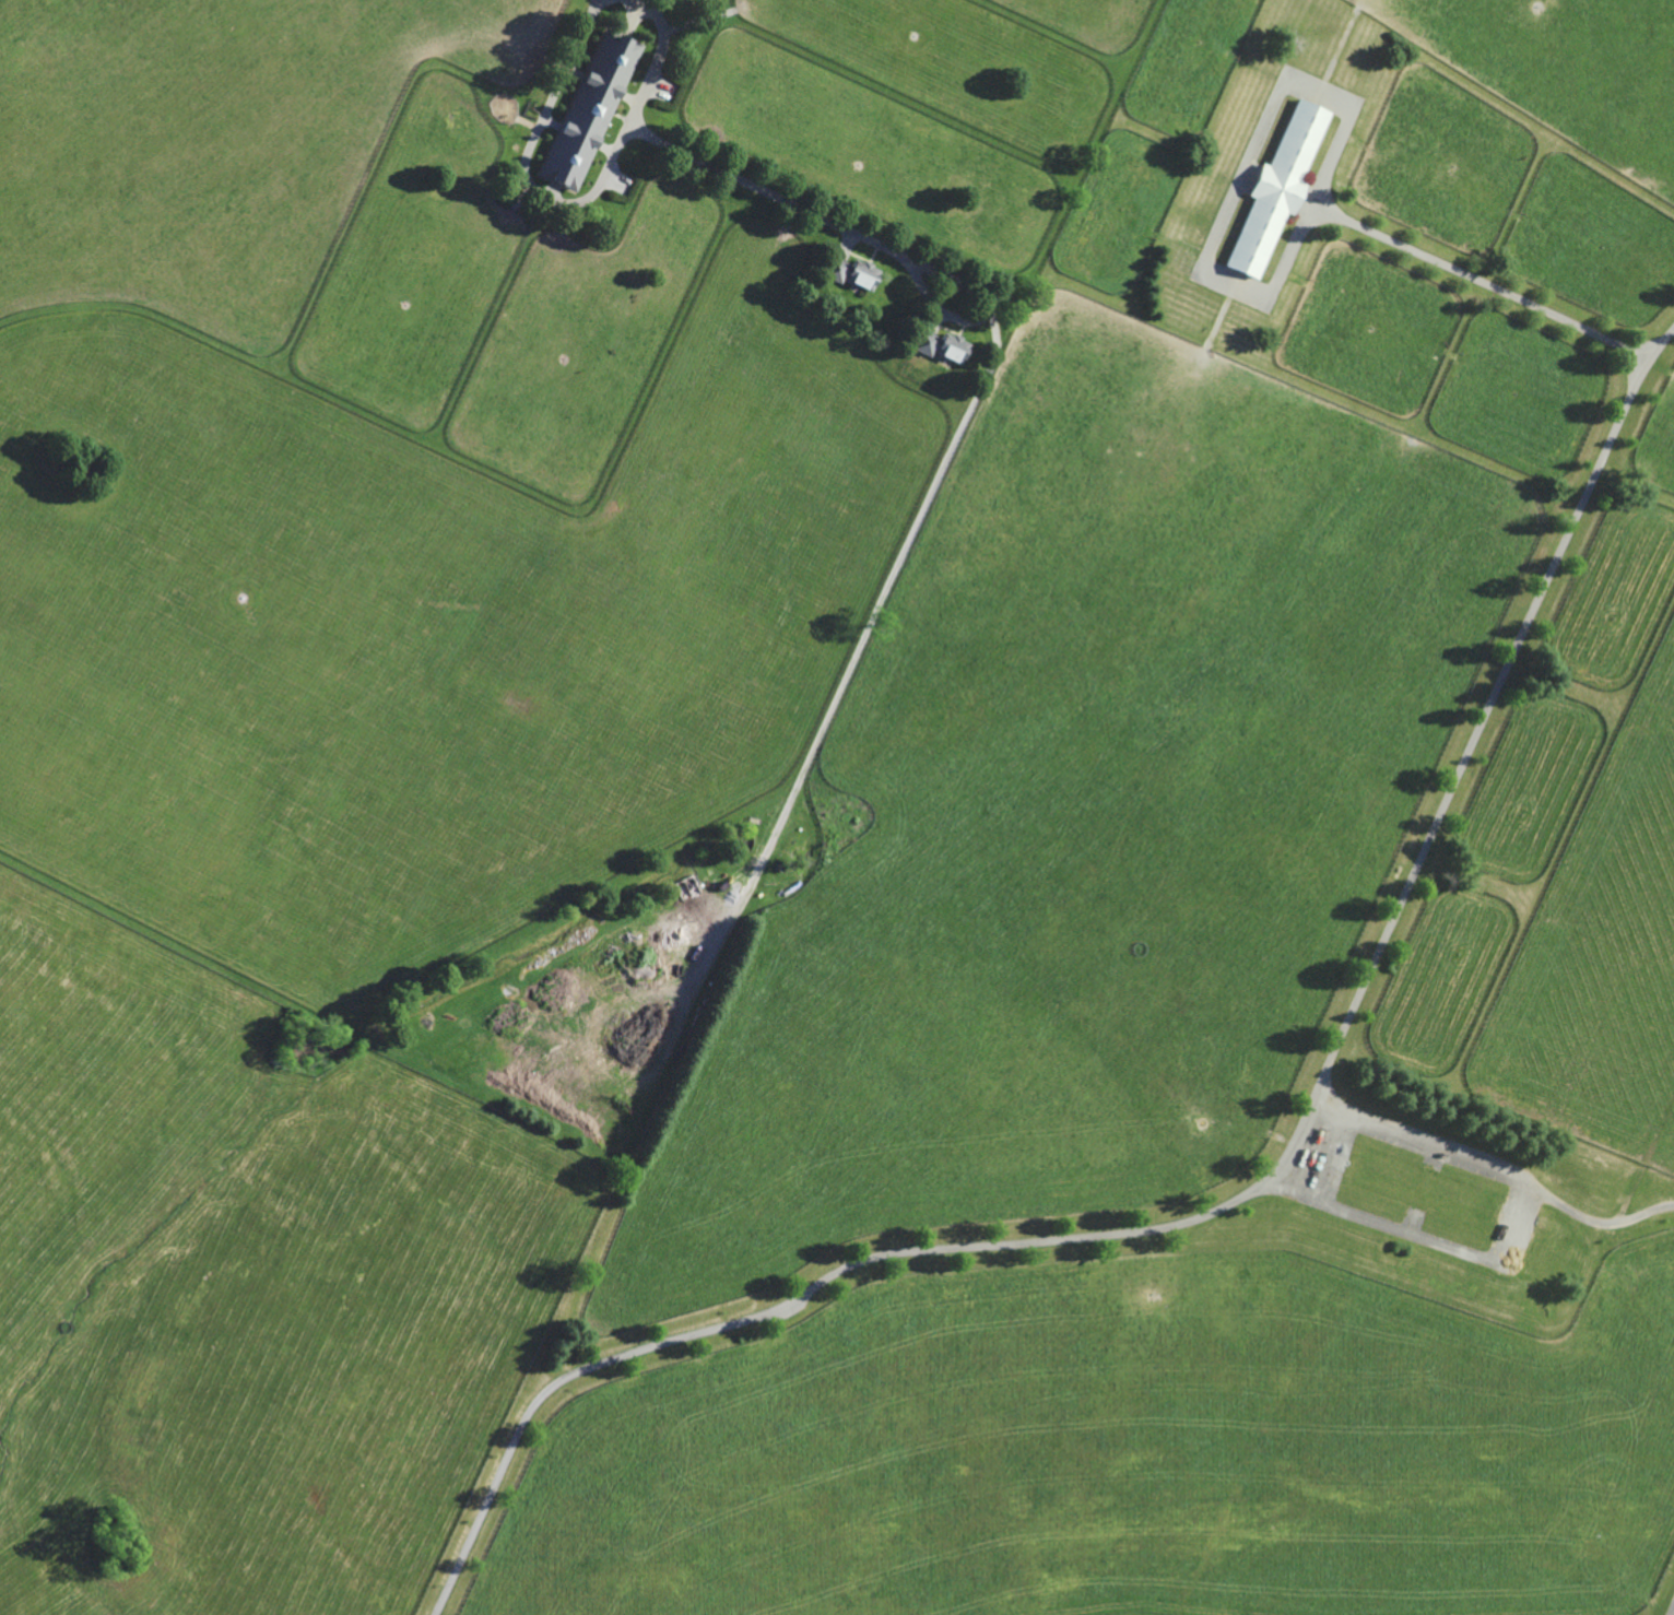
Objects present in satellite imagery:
building: (590, 107)
building: (1277, 189)
road: (570, 201)
building: (851, 271)
road: (1273, 288)
building: (942, 344)
road: (955, 446)
road: (1317, 1148)
road: (1497, 1166)
road: (1239, 1200)
road: (1420, 1236)
road: (1672, 1612)

